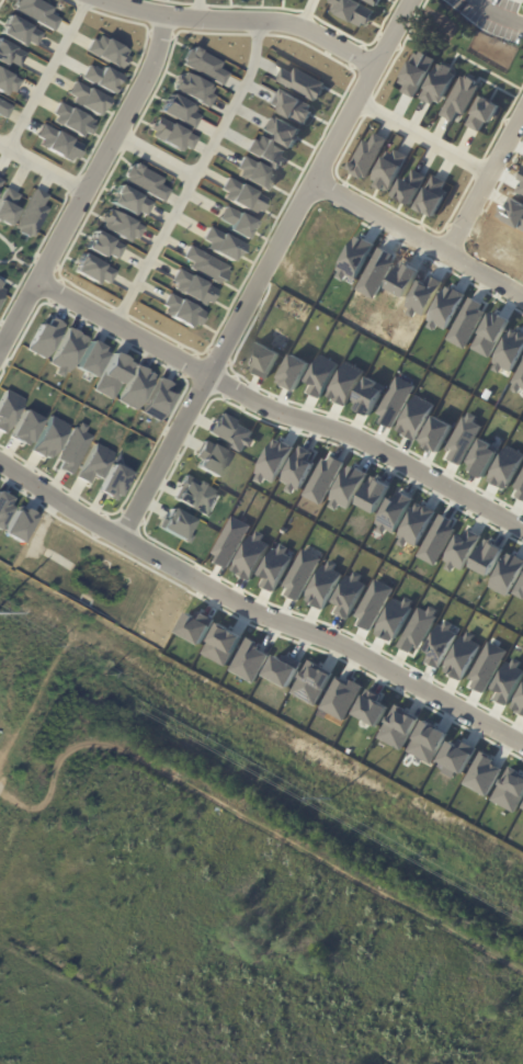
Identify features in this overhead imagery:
building: (375, 1)
road: (196, 9)
building: (353, 11)
building: (35, 12)
road: (307, 12)
road: (499, 12)
road: (242, 21)
building: (18, 31)
building: (106, 50)
building: (9, 53)
building: (202, 64)
building: (416, 72)
road: (45, 73)
building: (99, 77)
building: (7, 81)
building: (302, 82)
building: (437, 83)
building: (191, 88)
building: (84, 98)
building: (459, 98)
building: (289, 105)
building: (3, 109)
building: (177, 110)
building: (482, 113)
building: (69, 118)
building: (281, 129)
building: (169, 134)
road: (427, 135)
building: (56, 142)
building: (265, 151)
road: (155, 155)
building: (367, 155)
road: (42, 167)
building: (389, 169)
building: (253, 173)
road: (193, 174)
building: (143, 180)
building: (521, 182)
building: (410, 185)
road: (87, 188)
road: (486, 189)
building: (240, 195)
building: (432, 196)
building: (127, 200)
building: (5, 205)
building: (513, 212)
building: (30, 213)
building: (234, 222)
building: (118, 225)
road: (419, 237)
building: (219, 242)
building: (508, 242)
building: (101, 245)
building: (355, 258)
building: (203, 264)
road: (264, 268)
building: (91, 269)
building: (376, 273)
building: (403, 279)
building: (0, 284)
building: (191, 286)
building: (0, 290)
building: (423, 295)
building: (446, 307)
building: (179, 309)
building: (467, 322)
building: (491, 333)
building: (43, 337)
building: (65, 350)
building: (510, 351)
building: (90, 358)
building: (262, 359)
building: (293, 372)
building: (110, 374)
building: (321, 375)
building: (519, 381)
building: (346, 383)
building: (134, 385)
building: (369, 395)
building: (155, 398)
building: (396, 400)
building: (7, 407)
road: (277, 410)
building: (416, 417)
building: (22, 427)
building: (230, 432)
building: (436, 433)
building: (46, 437)
building: (464, 439)
building: (70, 448)
building: (208, 457)
building: (482, 457)
building: (274, 461)
building: (91, 462)
building: (507, 466)
building: (298, 469)
building: (323, 478)
building: (111, 480)
building: (520, 485)
building: (348, 487)
building: (374, 494)
building: (193, 495)
building: (2, 506)
building: (394, 512)
building: (173, 523)
building: (18, 524)
building: (417, 524)
building: (231, 540)
building: (437, 540)
building: (463, 550)
building: (252, 555)
building: (488, 557)
building: (275, 567)
building: (302, 574)
building: (508, 574)
building: (325, 585)
building: (521, 590)
building: (350, 595)
building: (374, 602)
road: (257, 615)
building: (395, 618)
building: (195, 626)
building: (419, 629)
building: (223, 644)
building: (441, 644)
building: (463, 656)
building: (250, 660)
building: (487, 666)
building: (283, 669)
building: (509, 681)
building: (312, 682)
building: (341, 697)
building: (520, 703)
building: (372, 708)
building: (398, 727)
building: (428, 742)
building: (457, 757)
building: (482, 773)
building: (510, 790)
power tower: (334, 797)

